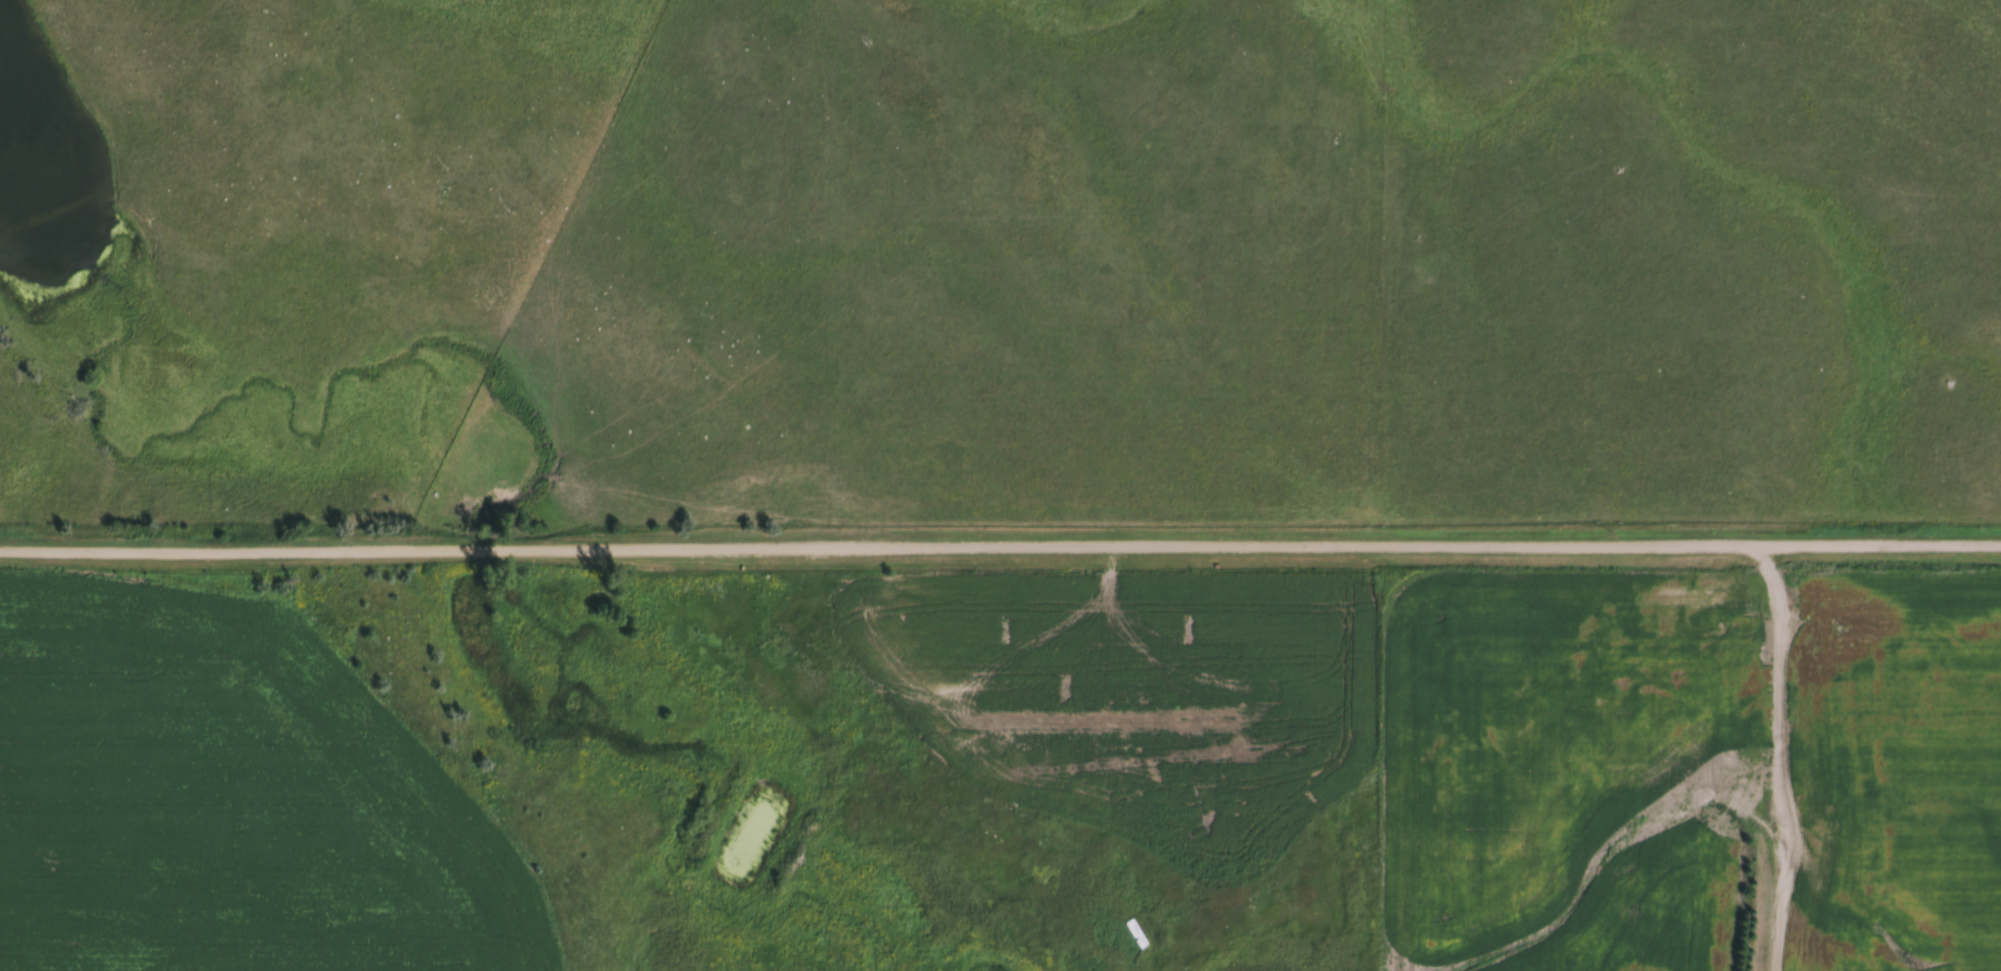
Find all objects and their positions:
road: (1000, 550)

